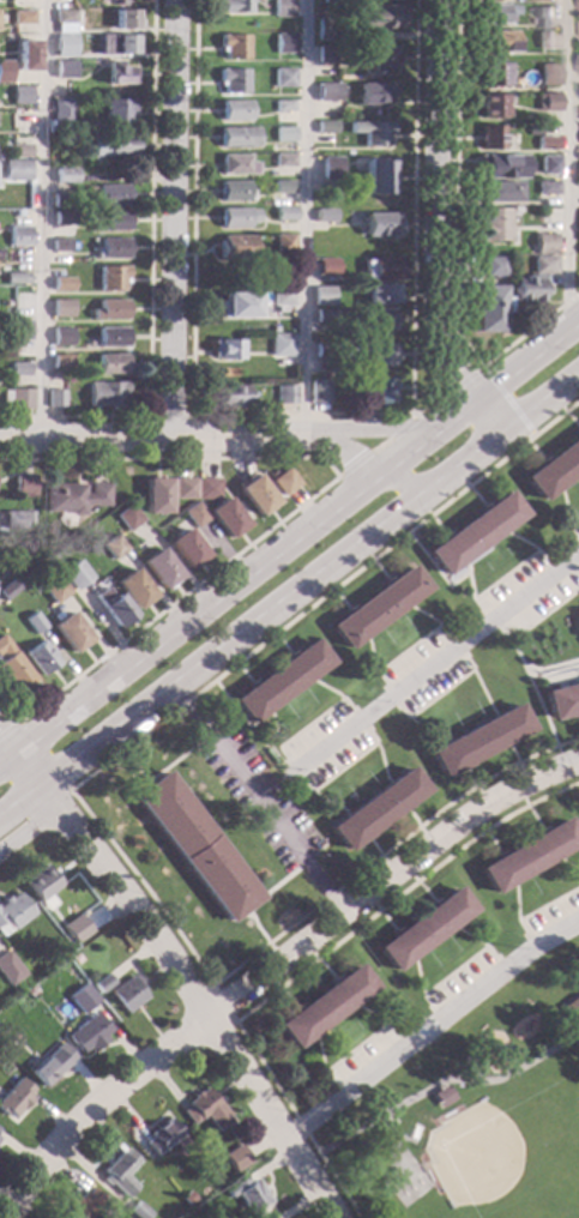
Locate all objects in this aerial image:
building: (487, 0)
building: (119, 2)
building: (231, 6)
building: (281, 8)
building: (490, 14)
building: (379, 16)
building: (544, 16)
building: (22, 17)
building: (122, 18)
building: (64, 20)
building: (325, 29)
building: (544, 40)
building: (496, 41)
building: (283, 43)
building: (115, 44)
building: (64, 46)
building: (233, 46)
building: (25, 54)
building: (324, 54)
building: (382, 59)
building: (64, 70)
building: (4, 71)
building: (117, 73)
building: (490, 74)
building: (547, 74)
building: (282, 77)
building: (231, 80)
building: (327, 91)
building: (373, 92)
building: (19, 95)
building: (544, 102)
building: (282, 105)
building: (489, 105)
building: (116, 110)
building: (234, 110)
building: (62, 111)
building: (325, 127)
building: (531, 131)
building: (370, 132)
building: (283, 134)
building: (236, 137)
building: (488, 137)
building: (543, 143)
building: (108, 147)
building: (13, 153)
building: (282, 159)
road: (566, 161)
building: (235, 164)
building: (547, 164)
building: (328, 167)
building: (497, 167)
building: (16, 170)
building: (577, 173)
building: (65, 175)
building: (375, 177)
building: (282, 186)
building: (544, 187)
building: (233, 191)
building: (28, 192)
building: (496, 192)
building: (109, 194)
building: (60, 200)
road: (412, 206)
building: (284, 213)
road: (303, 216)
building: (322, 216)
building: (62, 217)
building: (235, 217)
road: (41, 218)
road: (170, 218)
building: (109, 221)
building: (379, 224)
building: (491, 224)
road: (435, 227)
building: (18, 235)
building: (283, 242)
building: (543, 242)
building: (59, 245)
building: (110, 248)
building: (235, 248)
road: (453, 251)
building: (493, 265)
building: (542, 265)
building: (326, 267)
building: (379, 269)
building: (16, 277)
building: (110, 278)
road: (149, 282)
building: (61, 283)
building: (526, 289)
building: (542, 289)
building: (376, 294)
building: (321, 295)
building: (279, 297)
building: (239, 304)
building: (61, 308)
building: (487, 308)
building: (109, 309)
building: (327, 315)
road: (192, 316)
building: (370, 318)
building: (19, 330)
building: (61, 336)
building: (110, 336)
building: (279, 345)
building: (223, 349)
building: (326, 350)
building: (376, 352)
building: (60, 361)
building: (110, 363)
building: (18, 368)
road: (506, 372)
road: (463, 380)
building: (380, 391)
building: (104, 393)
building: (316, 393)
building: (284, 394)
building: (230, 396)
building: (55, 398)
building: (16, 399)
road: (506, 400)
road: (539, 404)
road: (429, 406)
road: (169, 416)
road: (403, 428)
road: (216, 435)
road: (340, 445)
road: (379, 446)
road: (404, 447)
road: (352, 465)
road: (459, 466)
building: (554, 469)
building: (284, 482)
road: (396, 482)
building: (23, 486)
building: (182, 488)
building: (206, 488)
building: (254, 494)
building: (155, 495)
building: (73, 496)
road: (302, 502)
road: (563, 506)
building: (193, 514)
building: (25, 517)
building: (224, 517)
building: (127, 518)
building: (12, 520)
road: (571, 529)
building: (471, 532)
road: (518, 541)
building: (111, 545)
building: (185, 548)
building: (12, 553)
building: (158, 568)
road: (573, 571)
building: (73, 574)
road: (451, 574)
road: (452, 583)
road: (469, 586)
building: (7, 589)
building: (53, 589)
building: (132, 589)
parking lot: (524, 596)
building: (111, 607)
building: (375, 607)
road: (187, 610)
road: (484, 614)
building: (578, 614)
road: (421, 615)
building: (32, 622)
building: (577, 625)
building: (68, 632)
road: (369, 653)
building: (38, 657)
road: (209, 657)
road: (435, 662)
building: (12, 668)
road: (549, 668)
road: (469, 669)
parking lot: (420, 673)
road: (537, 677)
building: (277, 681)
road: (324, 688)
road: (482, 692)
road: (533, 693)
building: (561, 700)
road: (249, 725)
road: (8, 728)
road: (428, 729)
building: (478, 740)
road: (4, 744)
parking lot: (326, 746)
road: (279, 748)
road: (512, 753)
road: (164, 766)
road: (382, 767)
road: (470, 776)
parking lot: (257, 797)
road: (254, 798)
road: (61, 800)
road: (327, 802)
road: (82, 808)
building: (375, 808)
road: (410, 816)
road: (28, 831)
building: (193, 846)
road: (372, 846)
building: (527, 855)
road: (567, 864)
road: (384, 878)
building: (41, 884)
road: (270, 890)
road: (549, 904)
building: (13, 911)
parking lot: (553, 914)
road: (518, 918)
building: (79, 923)
building: (422, 928)
road: (259, 935)
building: (82, 936)
road: (482, 943)
building: (76, 959)
road: (308, 963)
building: (8, 969)
road: (454, 972)
parking lot: (464, 977)
road: (177, 978)
building: (101, 983)
road: (418, 990)
building: (28, 991)
building: (125, 994)
building: (80, 999)
road: (221, 1005)
building: (321, 1006)
building: (572, 1007)
road: (379, 1020)
road: (428, 1026)
building: (86, 1033)
road: (352, 1048)
parking lot: (360, 1057)
building: (49, 1065)
road: (319, 1066)
building: (13, 1097)
building: (440, 1097)
building: (201, 1108)
road: (95, 1110)
park: (471, 1111)
building: (159, 1135)
building: (204, 1152)
park: (493, 1153)
building: (234, 1157)
building: (207, 1160)
building: (117, 1172)
building: (246, 1194)
building: (183, 1198)
building: (83, 1204)
park: (577, 1210)
building: (137, 1211)
building: (270, 1217)

